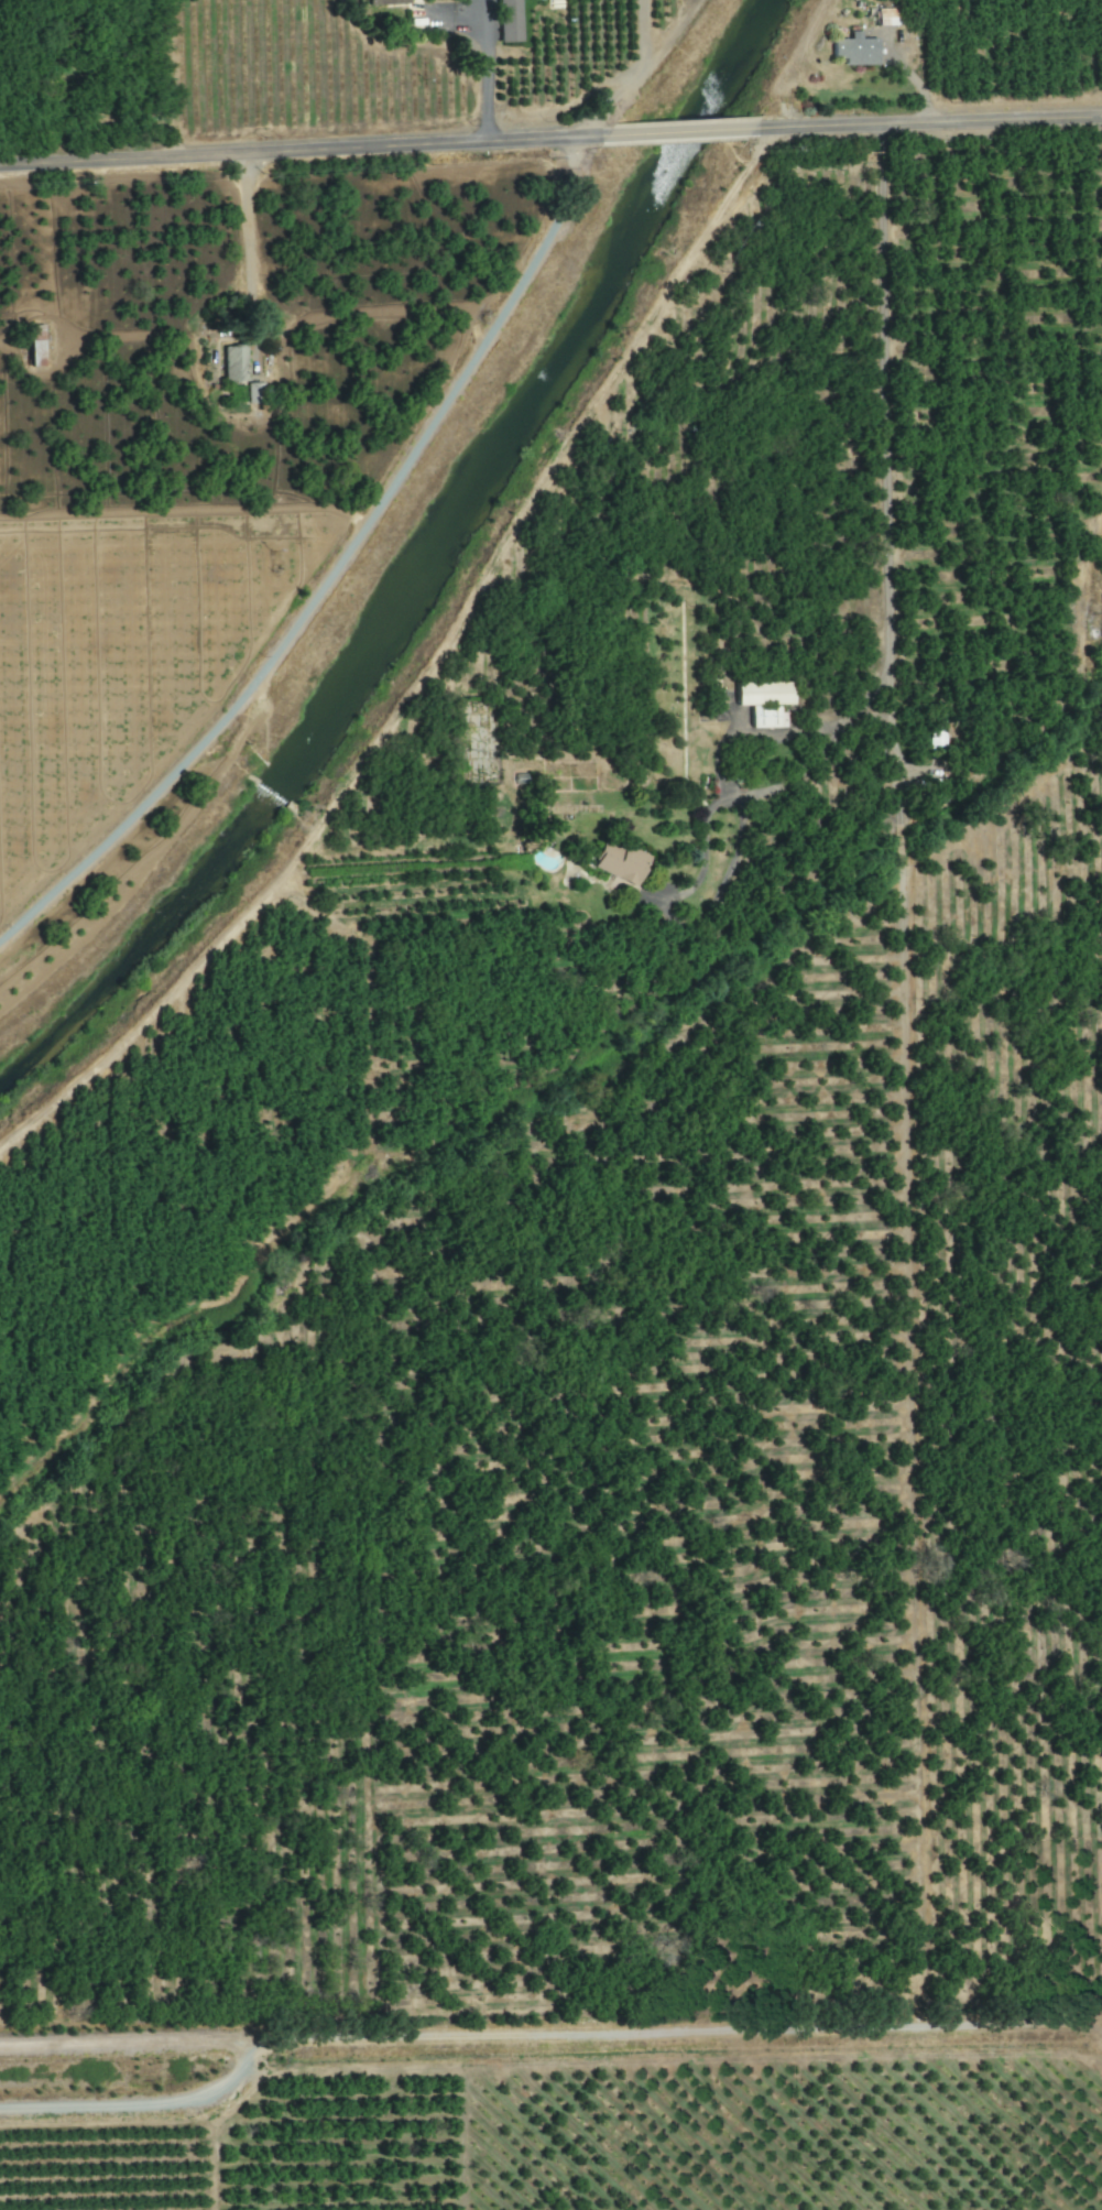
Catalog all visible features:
building: (510, 20)
building: (856, 48)
road: (482, 68)
road: (945, 122)
road: (688, 130)
road: (293, 144)
road: (244, 236)
building: (36, 351)
building: (236, 361)
building: (255, 391)
road: (881, 470)
building: (765, 699)
building: (937, 737)
road: (753, 801)
road: (894, 845)
building: (621, 861)

